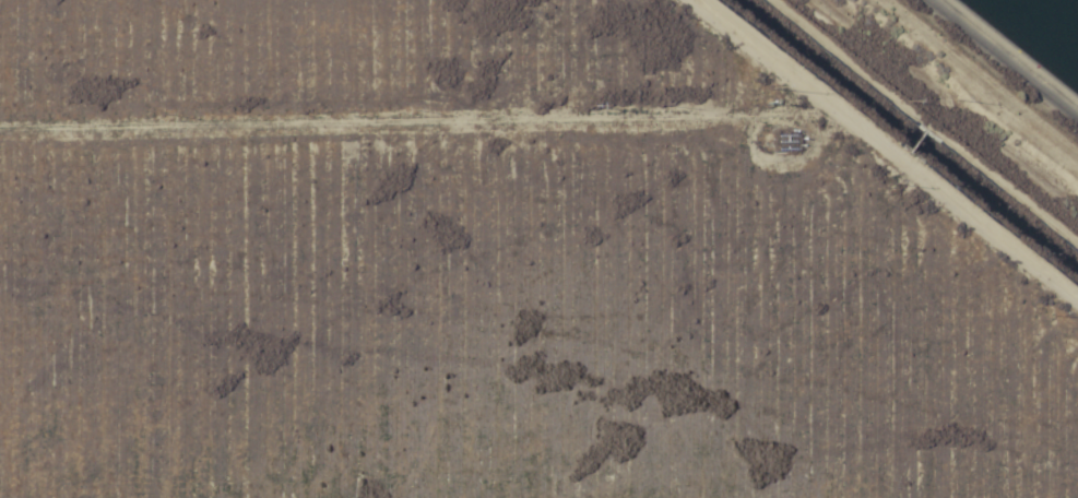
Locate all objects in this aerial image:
road: (1004, 58)

